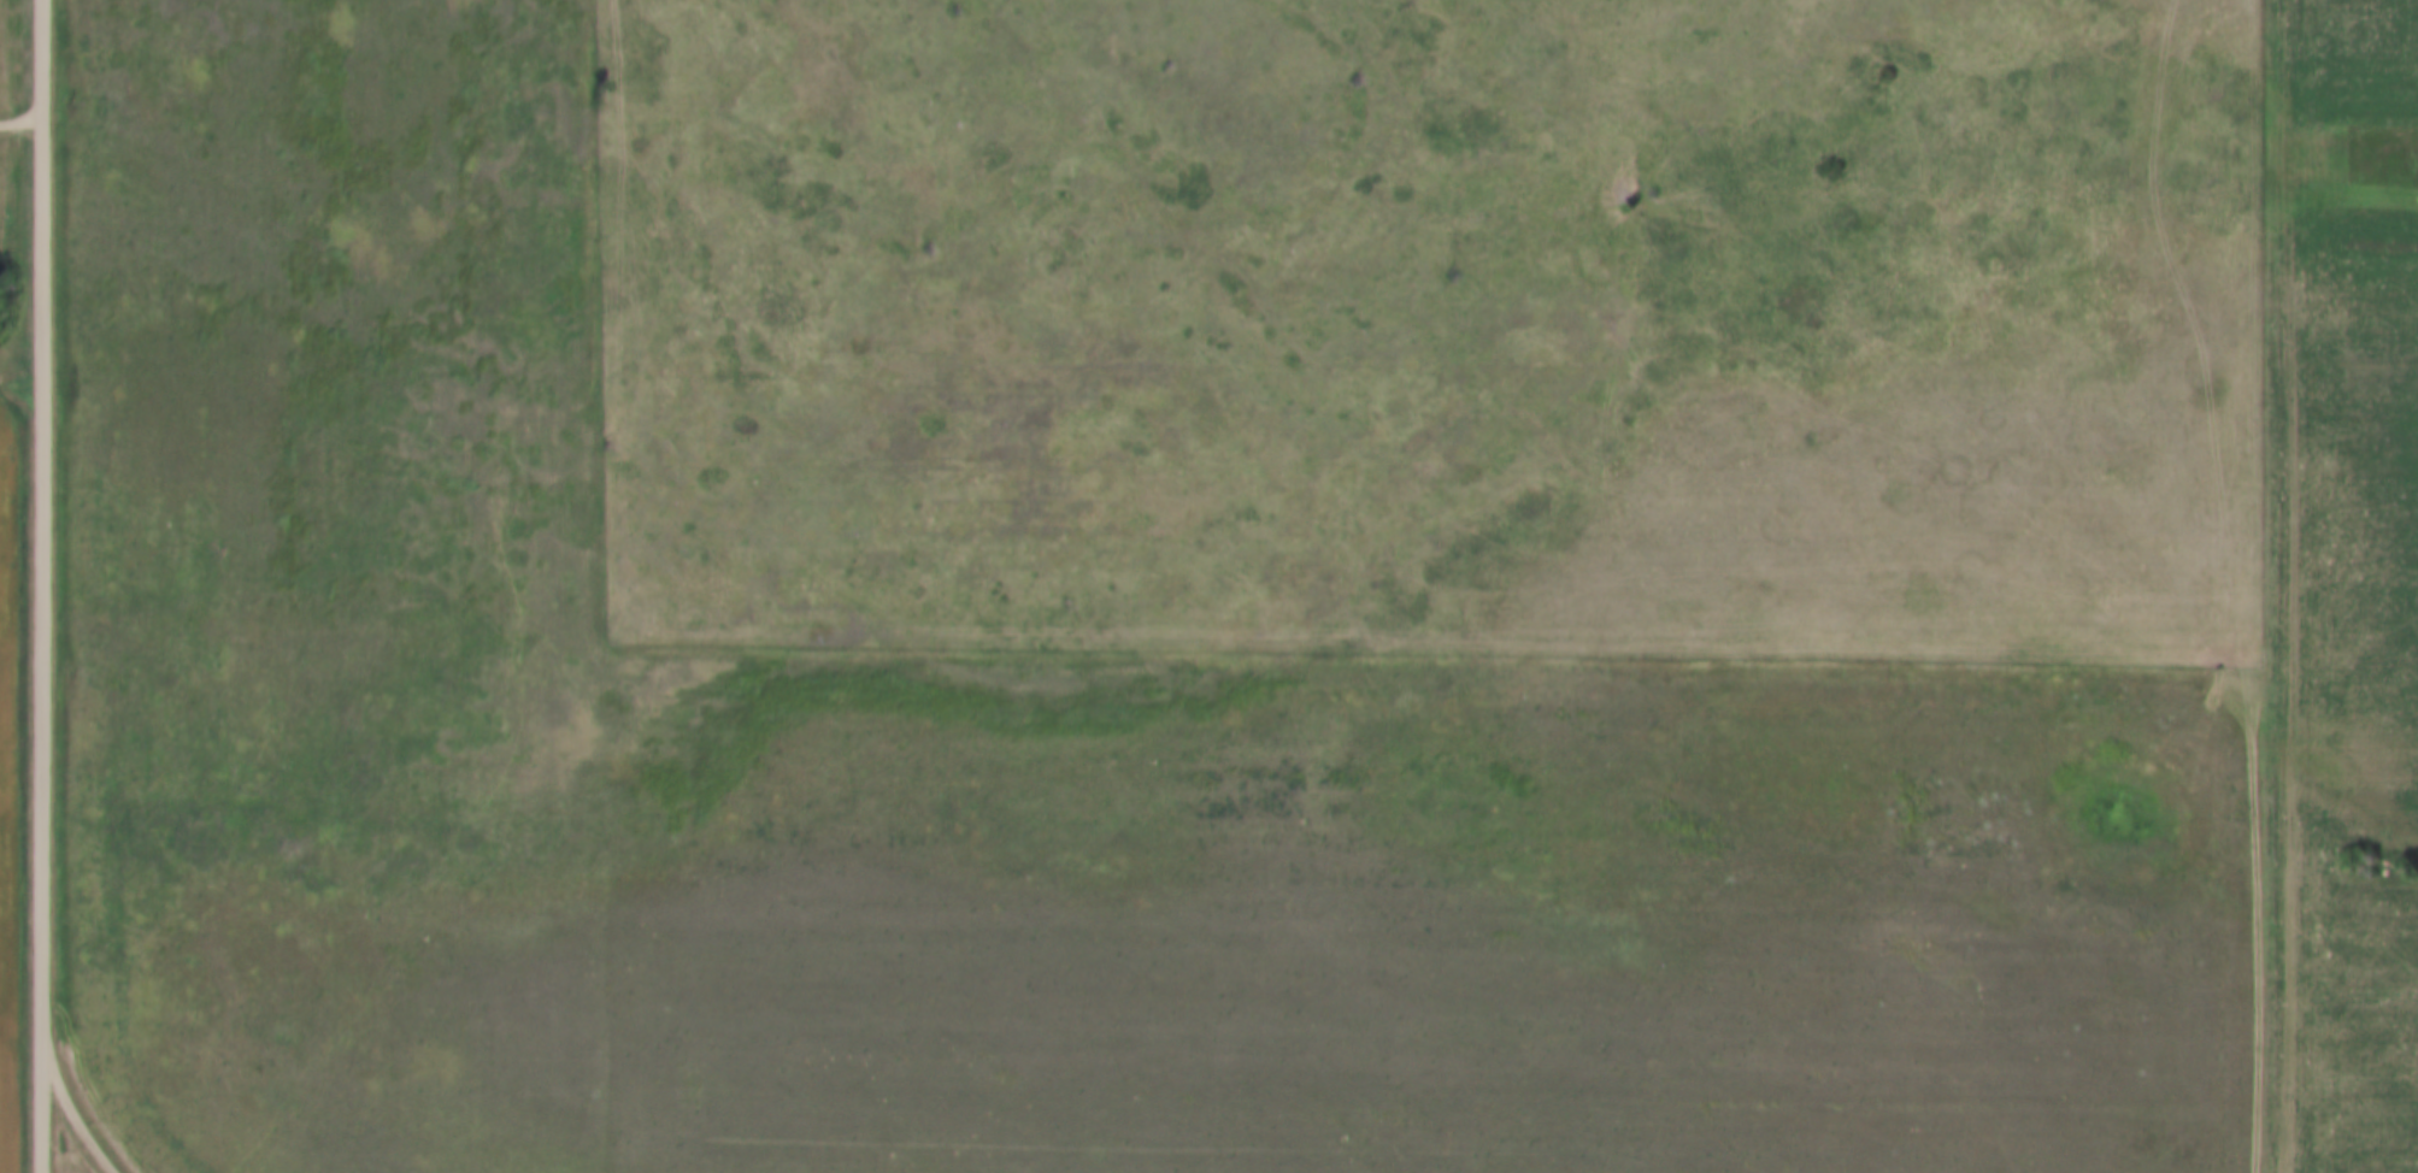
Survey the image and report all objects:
road: (20, 122)
road: (42, 586)
road: (67, 1114)

